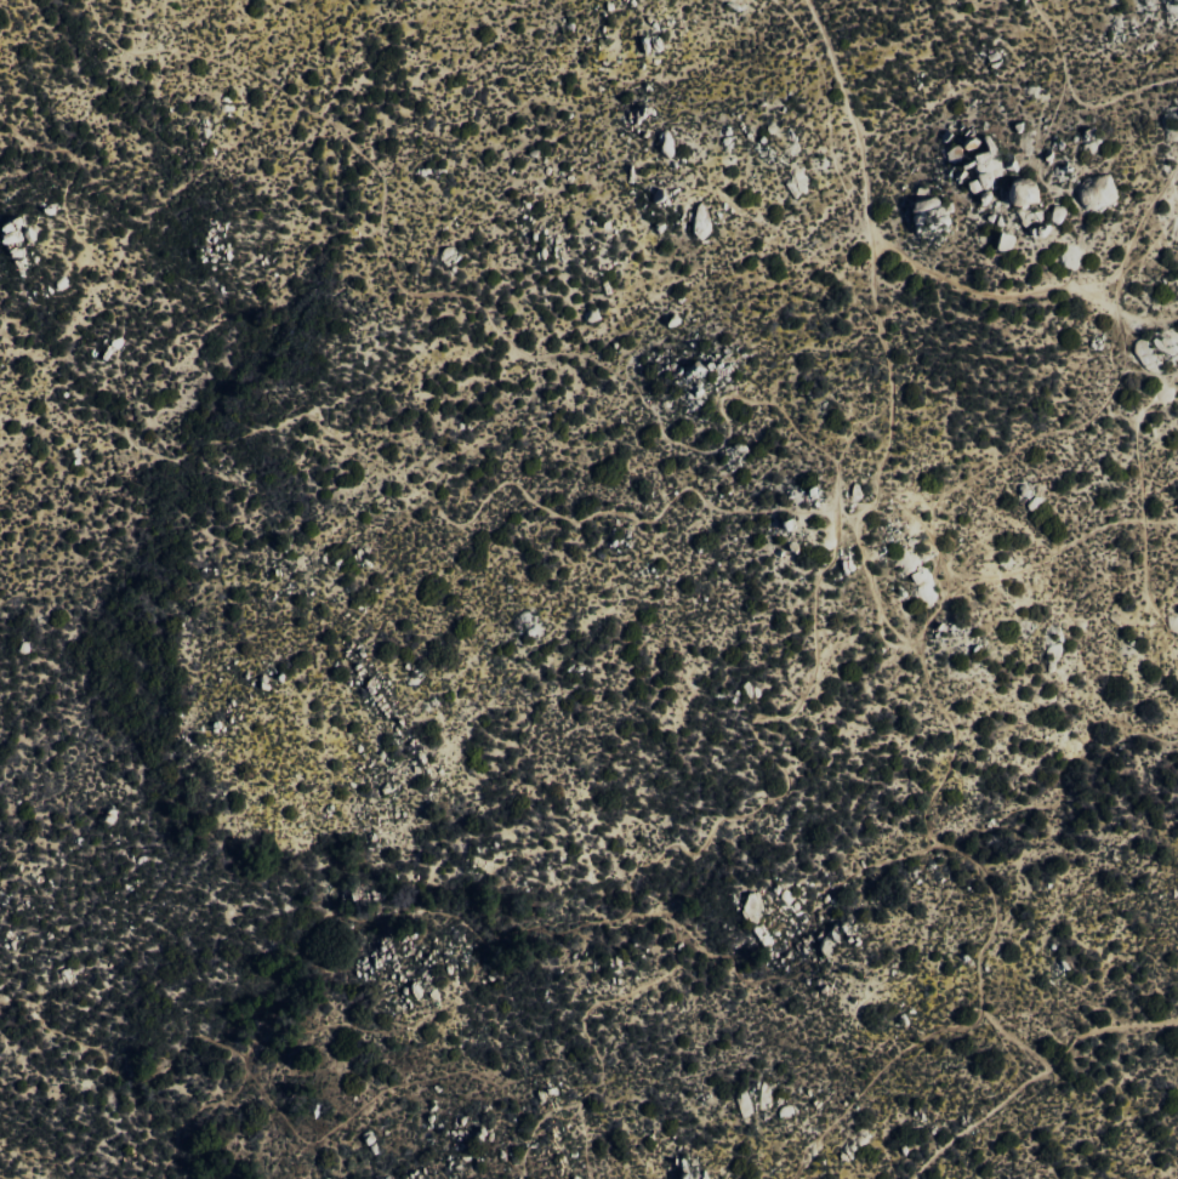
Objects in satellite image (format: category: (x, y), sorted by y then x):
road: (1174, 167)
road: (1062, 184)
building: (1094, 193)
building: (924, 213)
building: (1002, 241)

